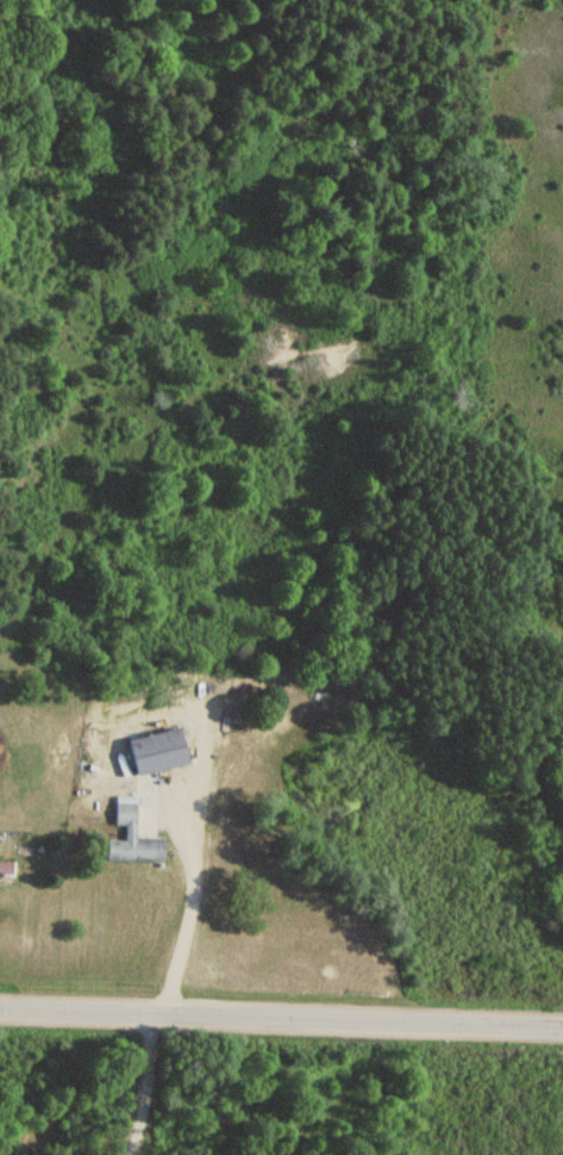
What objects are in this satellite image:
building: (152, 751)
building: (130, 837)
building: (5, 868)
road: (281, 1019)
road: (151, 1087)

